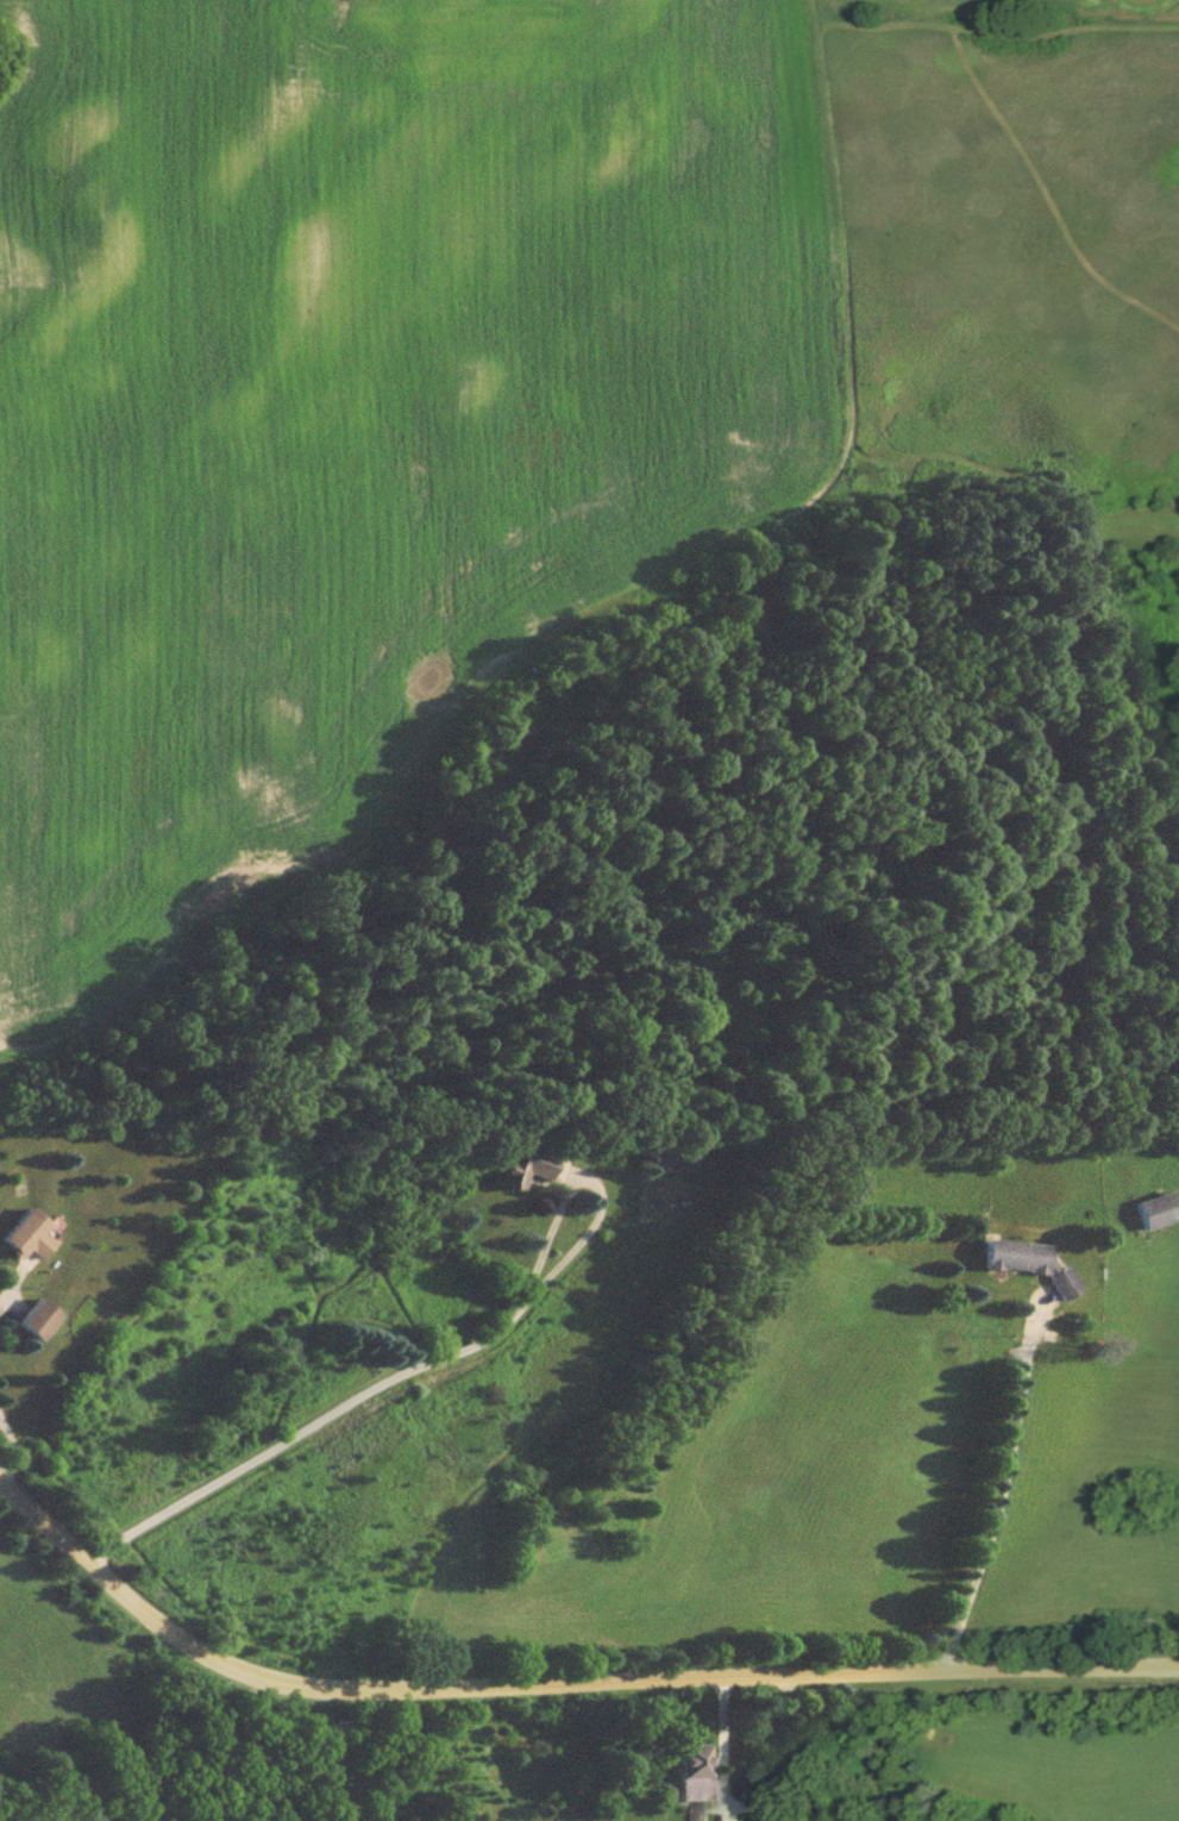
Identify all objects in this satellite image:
crop: (353, 424)
building: (663, 1164)
building: (520, 1170)
building: (1152, 1216)
building: (26, 1241)
building: (1024, 1269)
road: (7, 1306)
building: (32, 1326)
road: (438, 1364)
road: (12, 1451)
road: (999, 1491)
road: (553, 1684)
building: (686, 1784)
road: (748, 1820)

